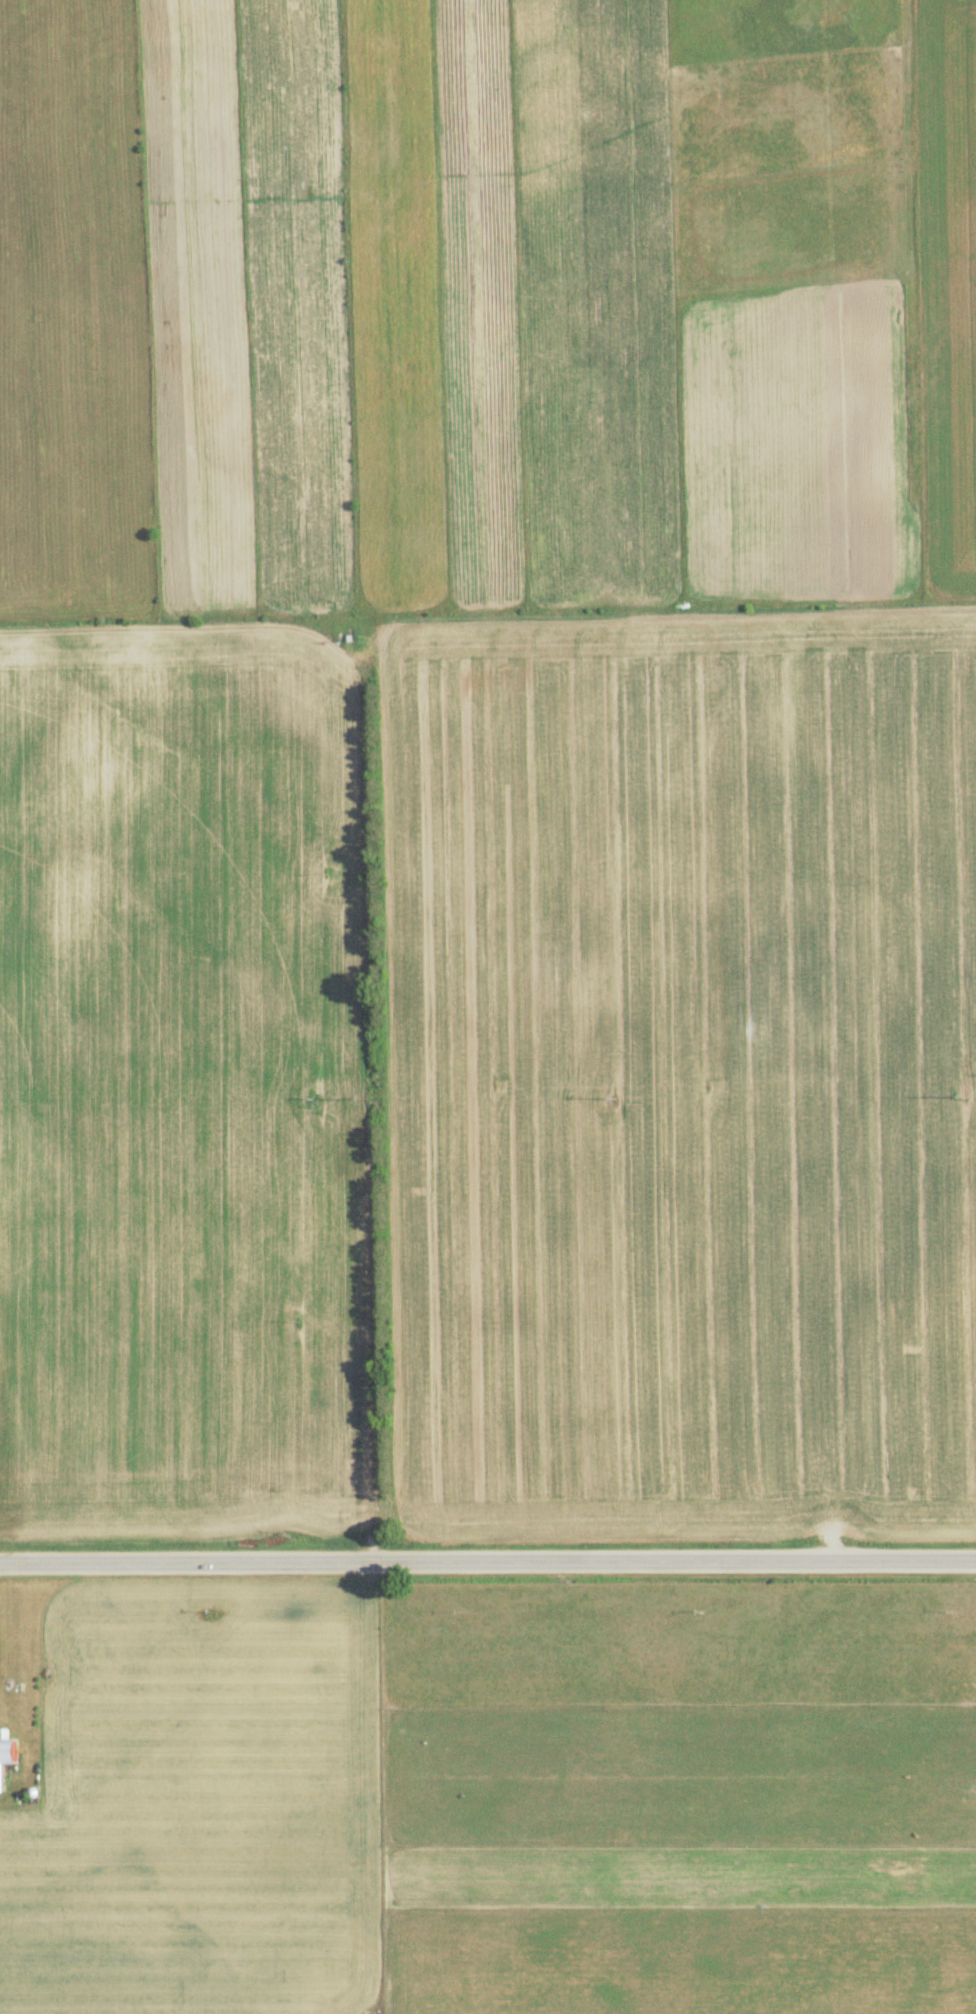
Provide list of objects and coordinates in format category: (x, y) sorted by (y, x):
road: (488, 1557)
building: (6, 1751)

